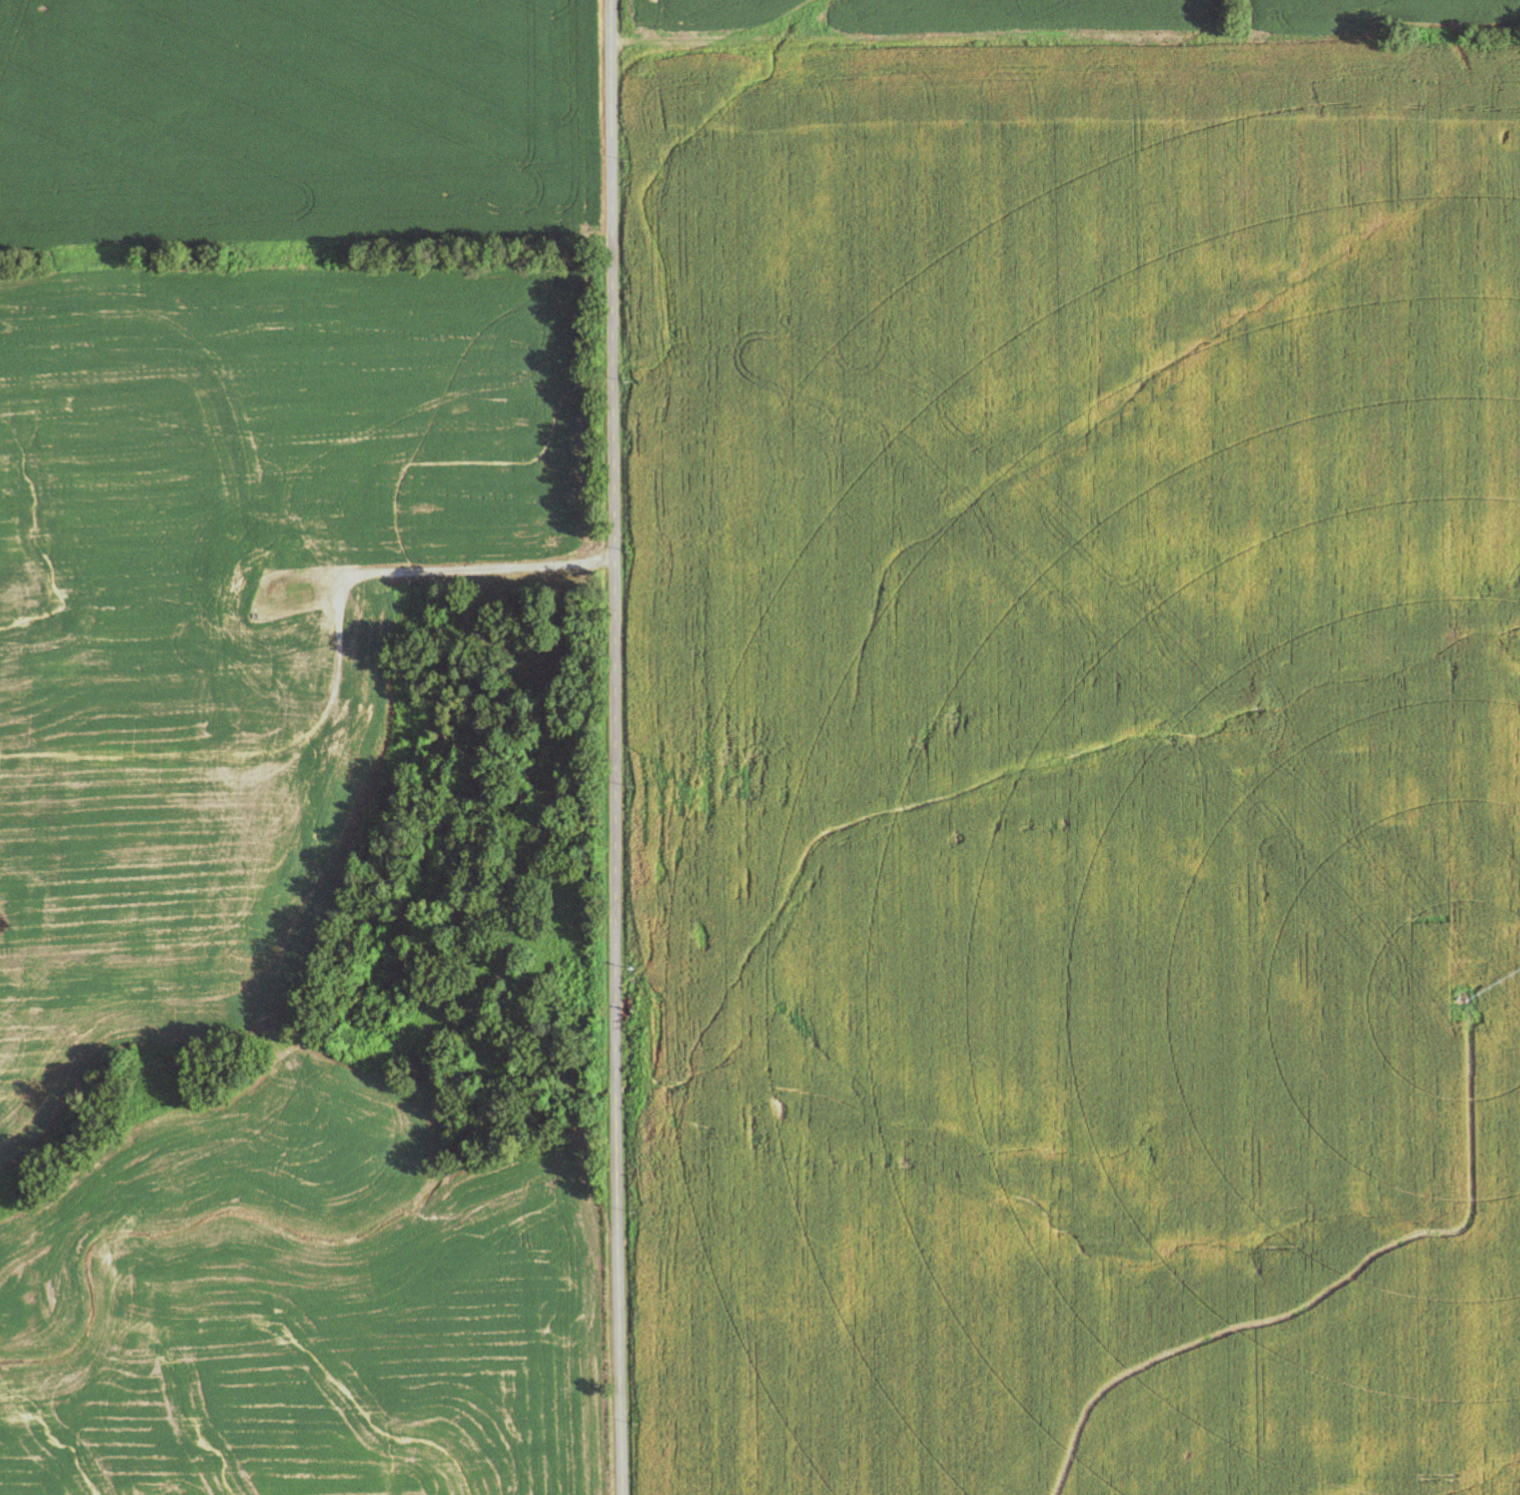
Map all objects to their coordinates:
road: (1059, 18)
road: (618, 747)

